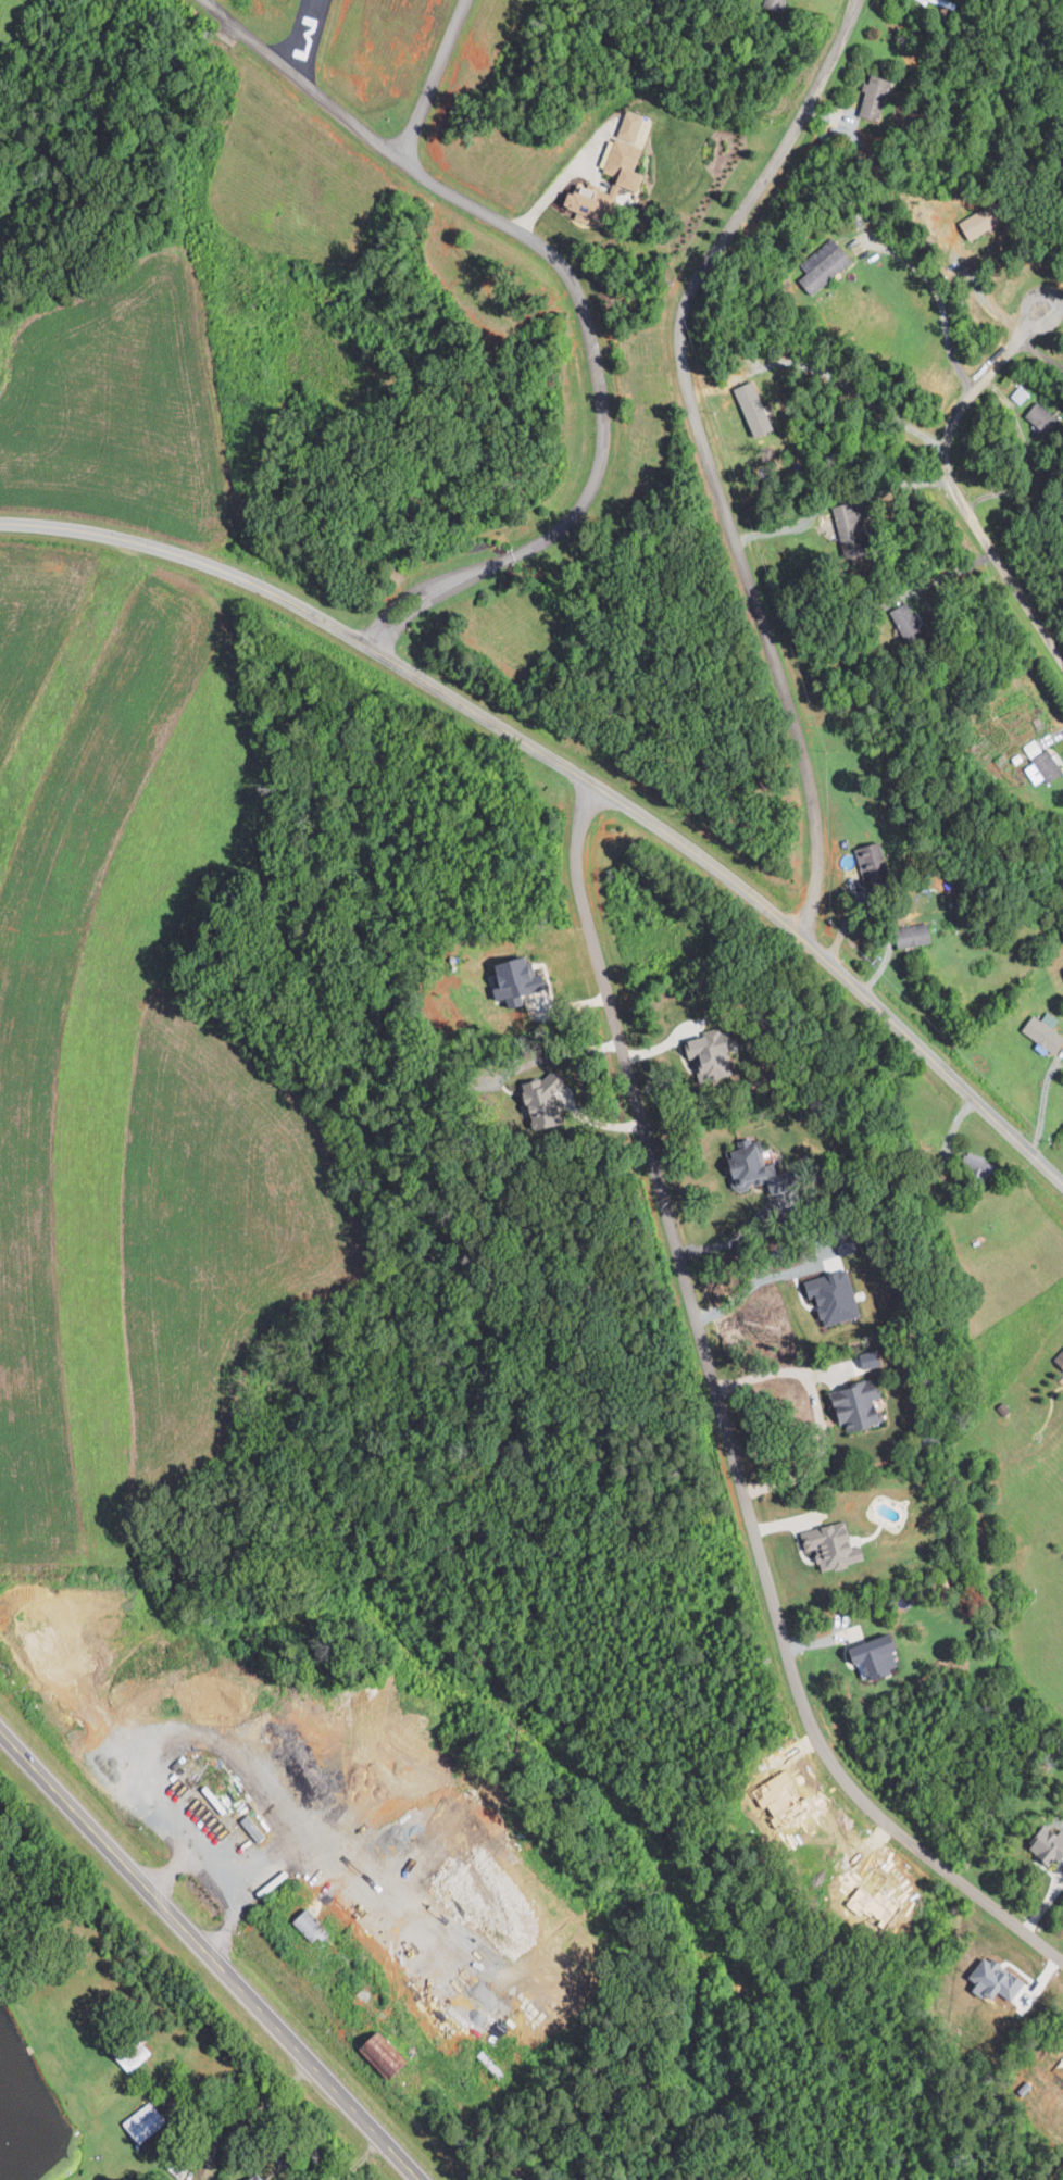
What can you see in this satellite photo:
airport runway: (307, 36)
road: (436, 80)
building: (878, 97)
road: (342, 111)
building: (630, 151)
road: (552, 187)
building: (595, 201)
building: (986, 220)
building: (825, 265)
road: (978, 290)
road: (938, 297)
road: (1028, 304)
road: (1058, 304)
road: (1034, 352)
road: (853, 390)
building: (758, 406)
road: (596, 415)
road: (701, 447)
road: (1027, 455)
road: (947, 491)
road: (835, 502)
building: (852, 526)
road: (403, 599)
road: (414, 611)
road: (377, 638)
road: (1053, 737)
building: (1033, 748)
building: (1048, 765)
road: (576, 774)
building: (876, 864)
building: (916, 935)
building: (518, 977)
building: (1046, 1033)
building: (715, 1053)
building: (754, 1163)
road: (745, 1237)
road: (801, 1267)
building: (835, 1298)
building: (875, 1358)
building: (1061, 1358)
road: (780, 1371)
building: (863, 1404)
road: (724, 1423)
road: (817, 1456)
building: (837, 1545)
building: (881, 1654)
road: (225, 1754)
building: (1051, 1846)
road: (212, 1882)
road: (210, 1954)
building: (998, 1980)
building: (390, 2055)
road: (251, 2116)
building: (147, 2121)
building: (259, 2176)

